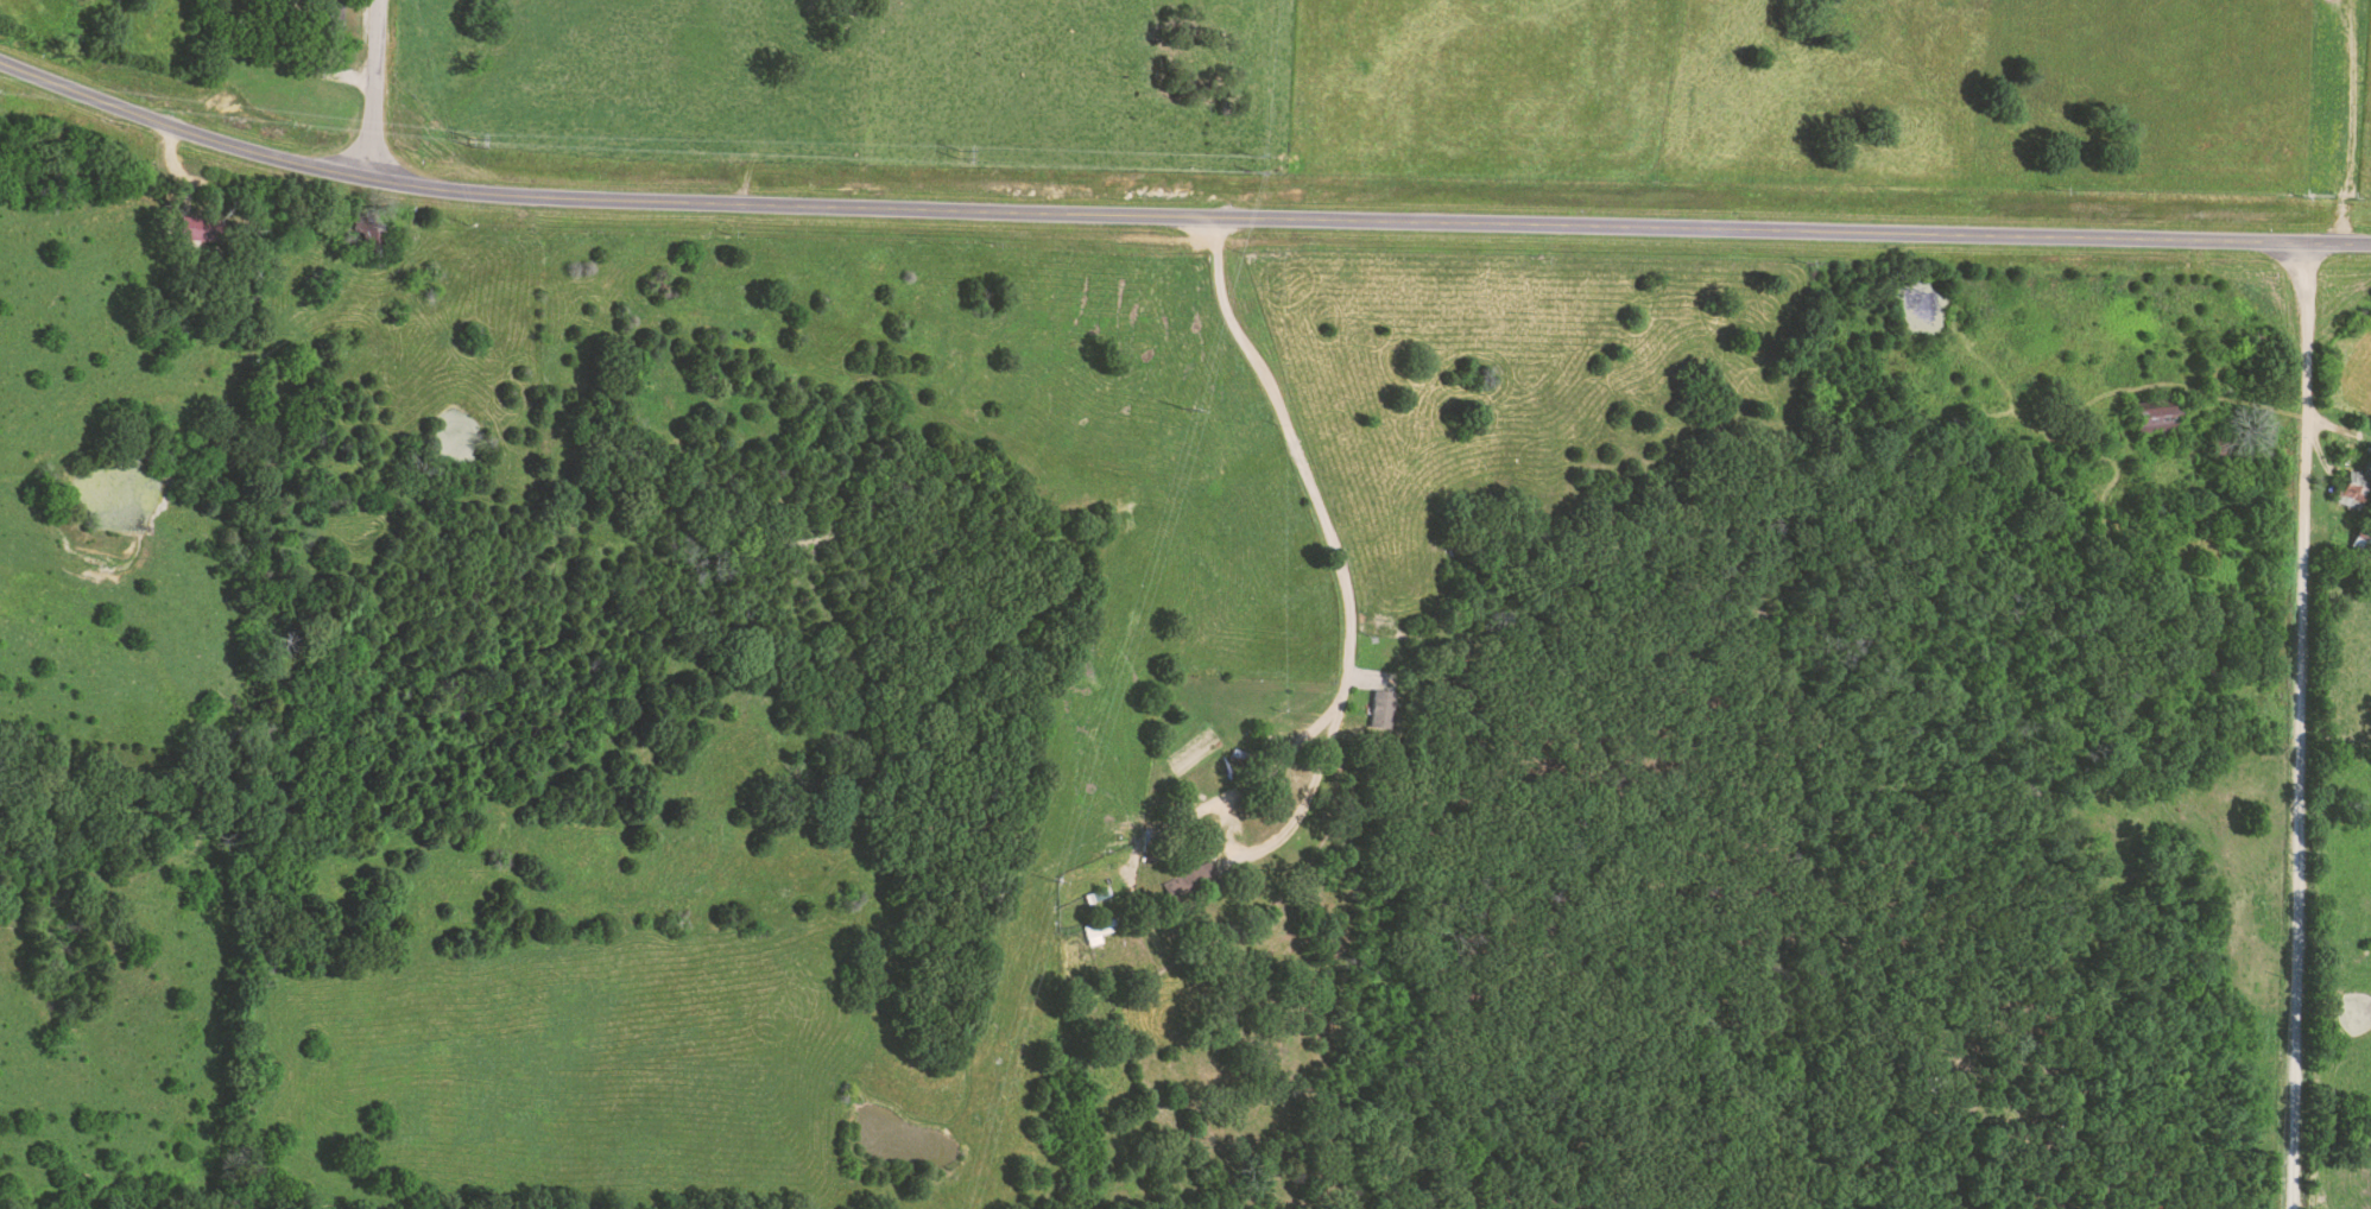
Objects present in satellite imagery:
road: (371, 88)
road: (89, 148)
road: (1176, 203)
building: (185, 228)
building: (2351, 489)
building: (1380, 709)
road: (2294, 724)

